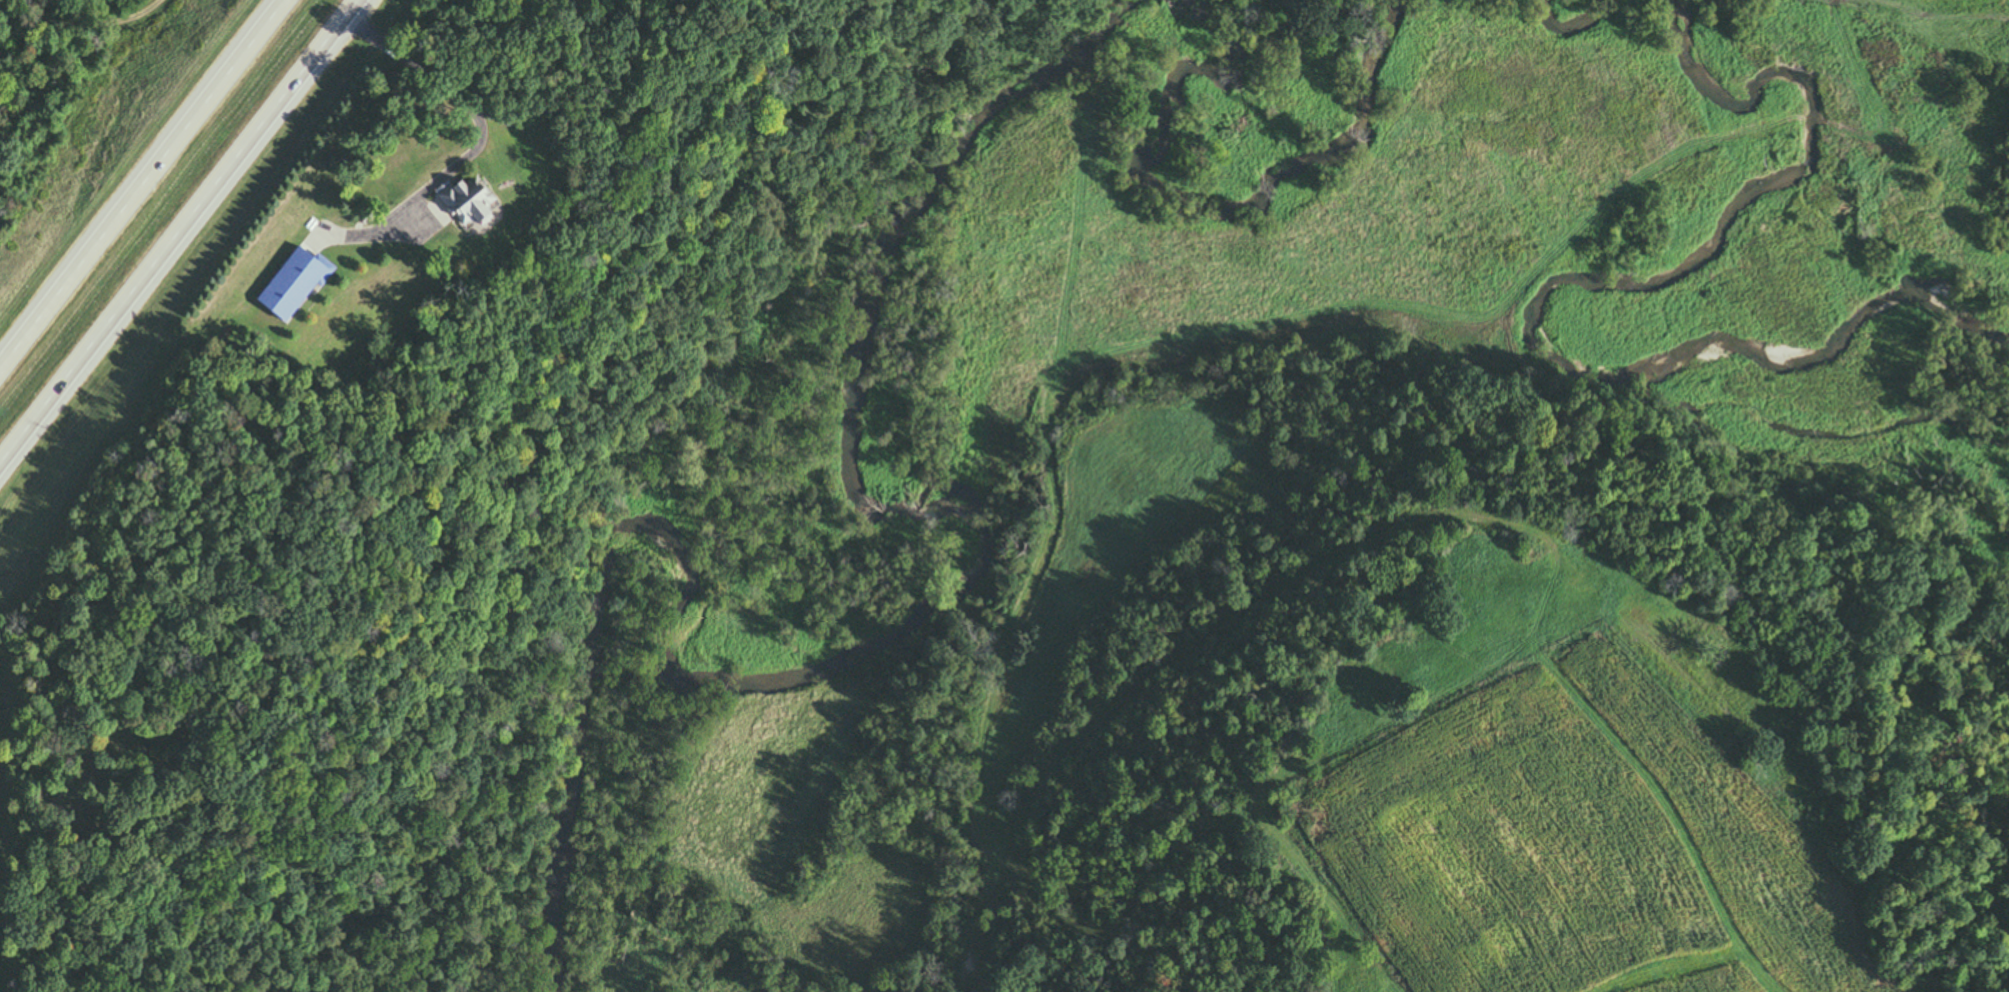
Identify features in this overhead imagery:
road: (144, 6)
road: (474, 145)
road: (137, 175)
building: (464, 203)
road: (177, 233)
building: (287, 282)
road: (1943, 810)
road: (1925, 906)

